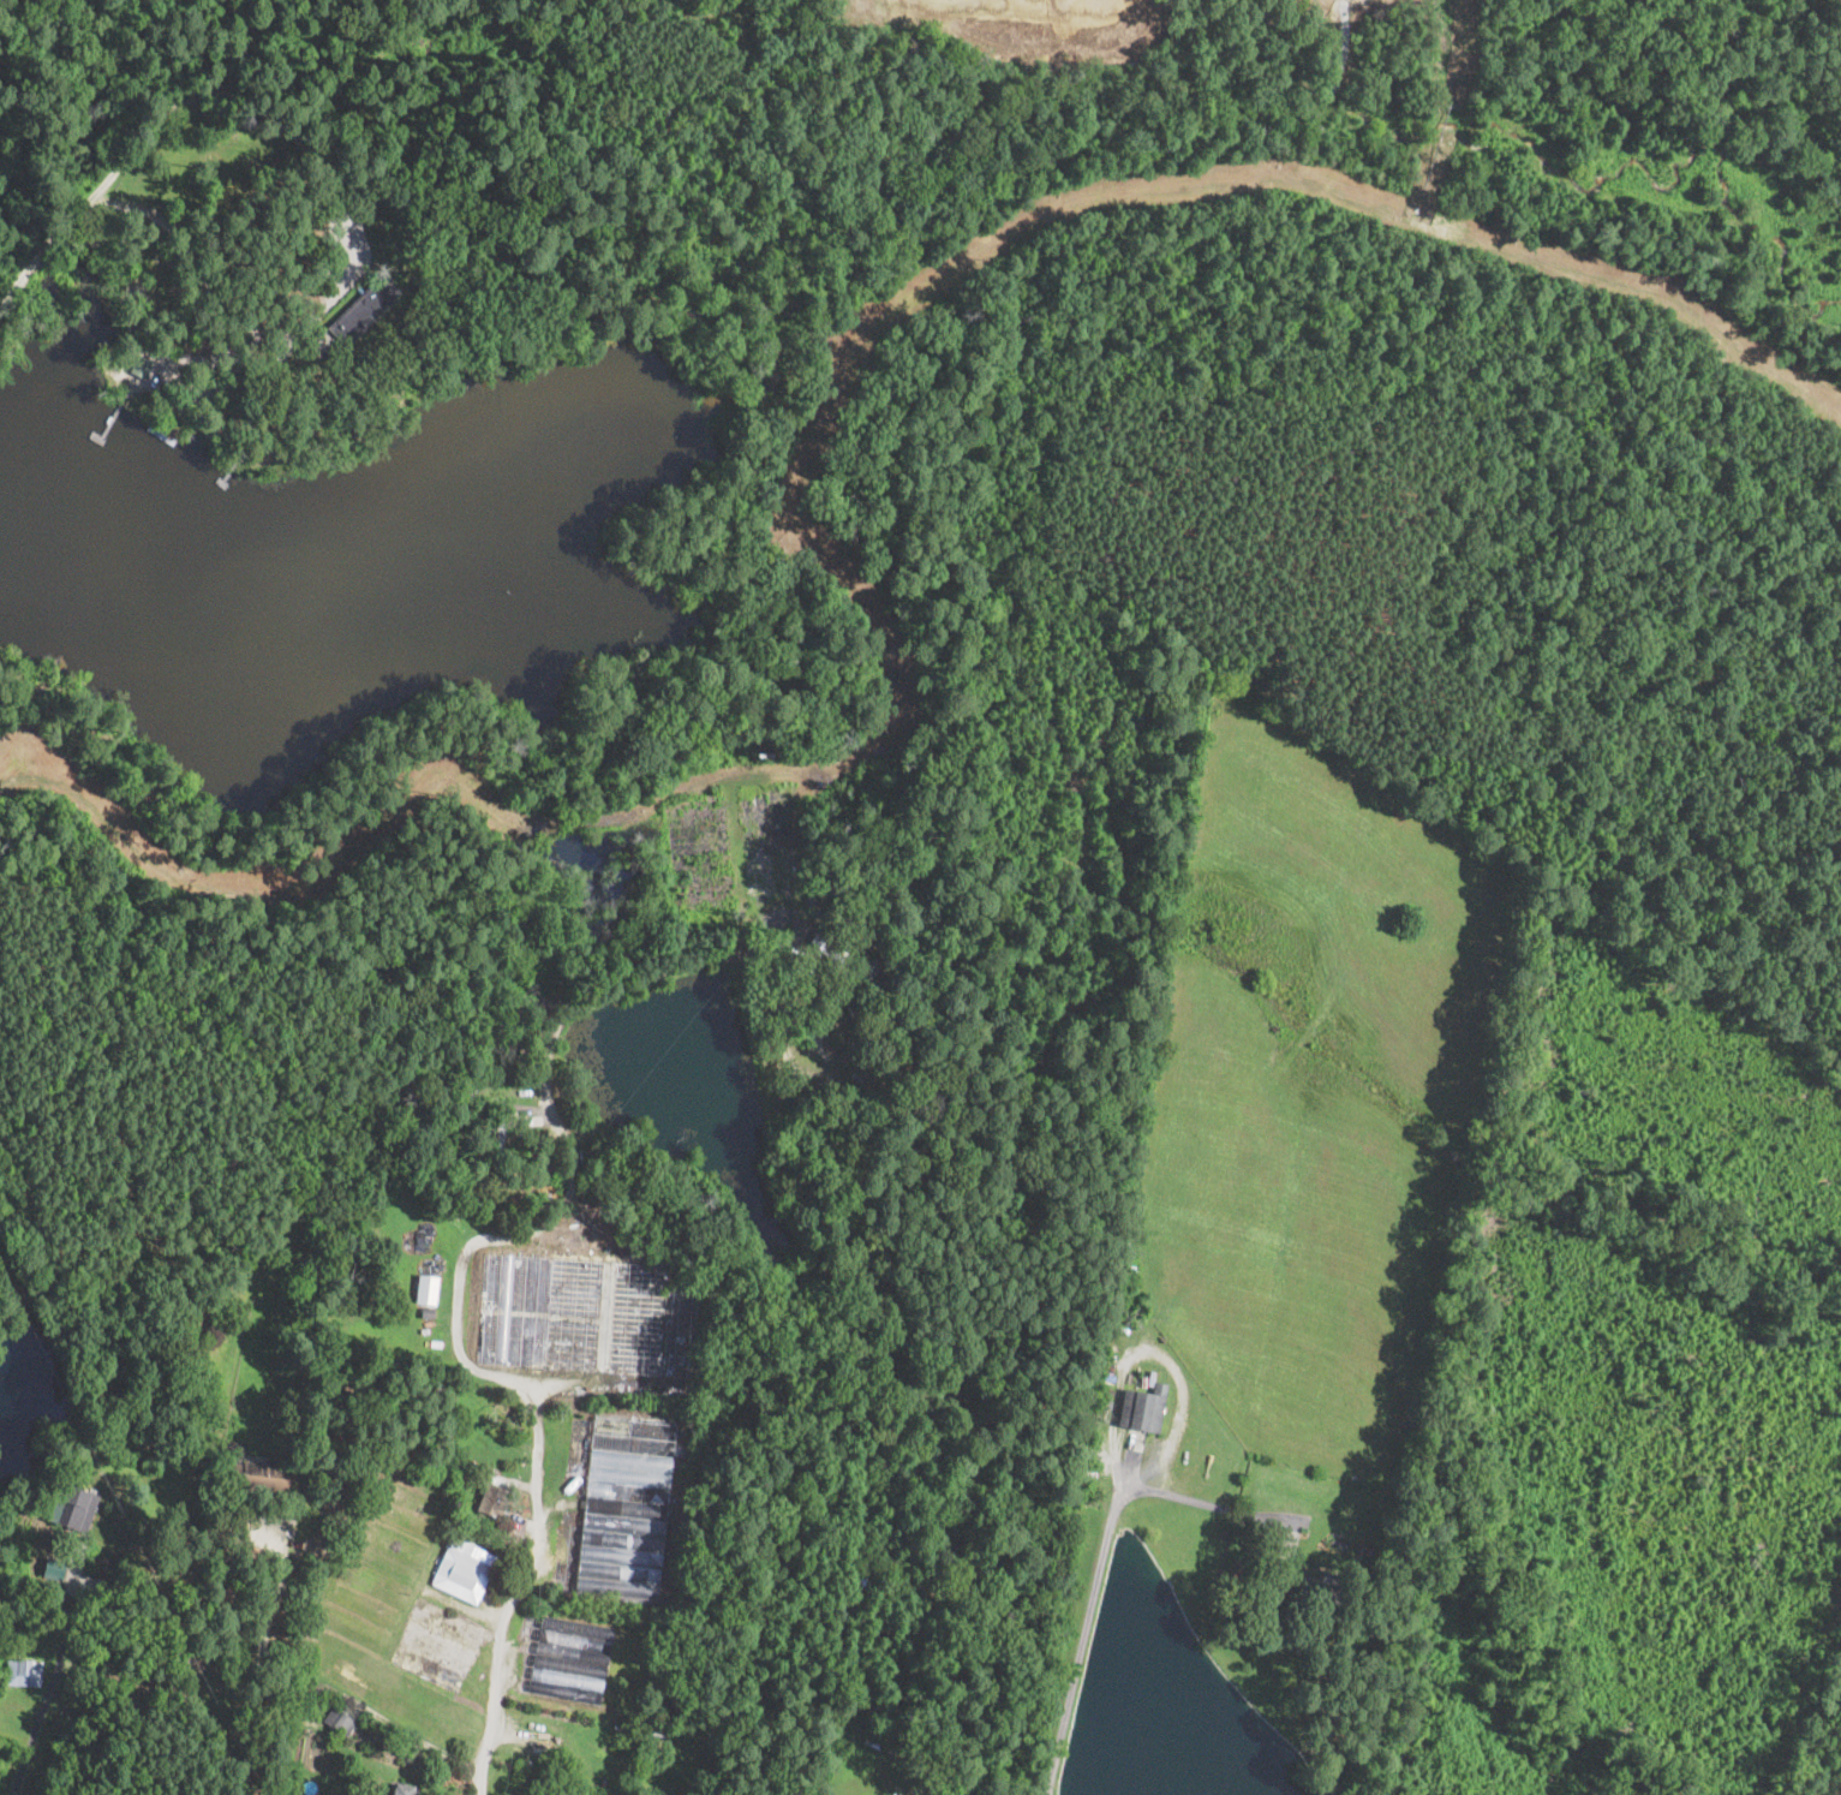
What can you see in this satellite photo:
road: (185, 97)
building: (410, 248)
building: (420, 264)
building: (423, 278)
building: (420, 309)
building: (363, 311)
building: (142, 363)
building: (163, 430)
building: (245, 451)
building: (829, 953)
building: (871, 967)
building: (856, 1021)
building: (500, 1131)
building: (426, 1289)
road: (455, 1306)
building: (428, 1313)
building: (581, 1316)
building: (1107, 1377)
building: (1152, 1378)
building: (1112, 1391)
building: (1106, 1405)
building: (1143, 1408)
building: (316, 1426)
building: (121, 1455)
building: (259, 1475)
road: (1180, 1497)
building: (491, 1501)
building: (624, 1508)
building: (73, 1509)
building: (1331, 1543)
building: (382, 1564)
building: (54, 1567)
building: (464, 1569)
building: (871, 1569)
building: (1298, 1586)
road: (518, 1592)
building: (6, 1641)
building: (438, 1645)
road: (1081, 1650)
building: (569, 1660)
road: (257, 1662)
building: (30, 1672)
road: (53, 1676)
building: (136, 1713)
building: (340, 1722)
building: (907, 1724)
building: (654, 1729)
road: (911, 1782)
building: (402, 1789)

